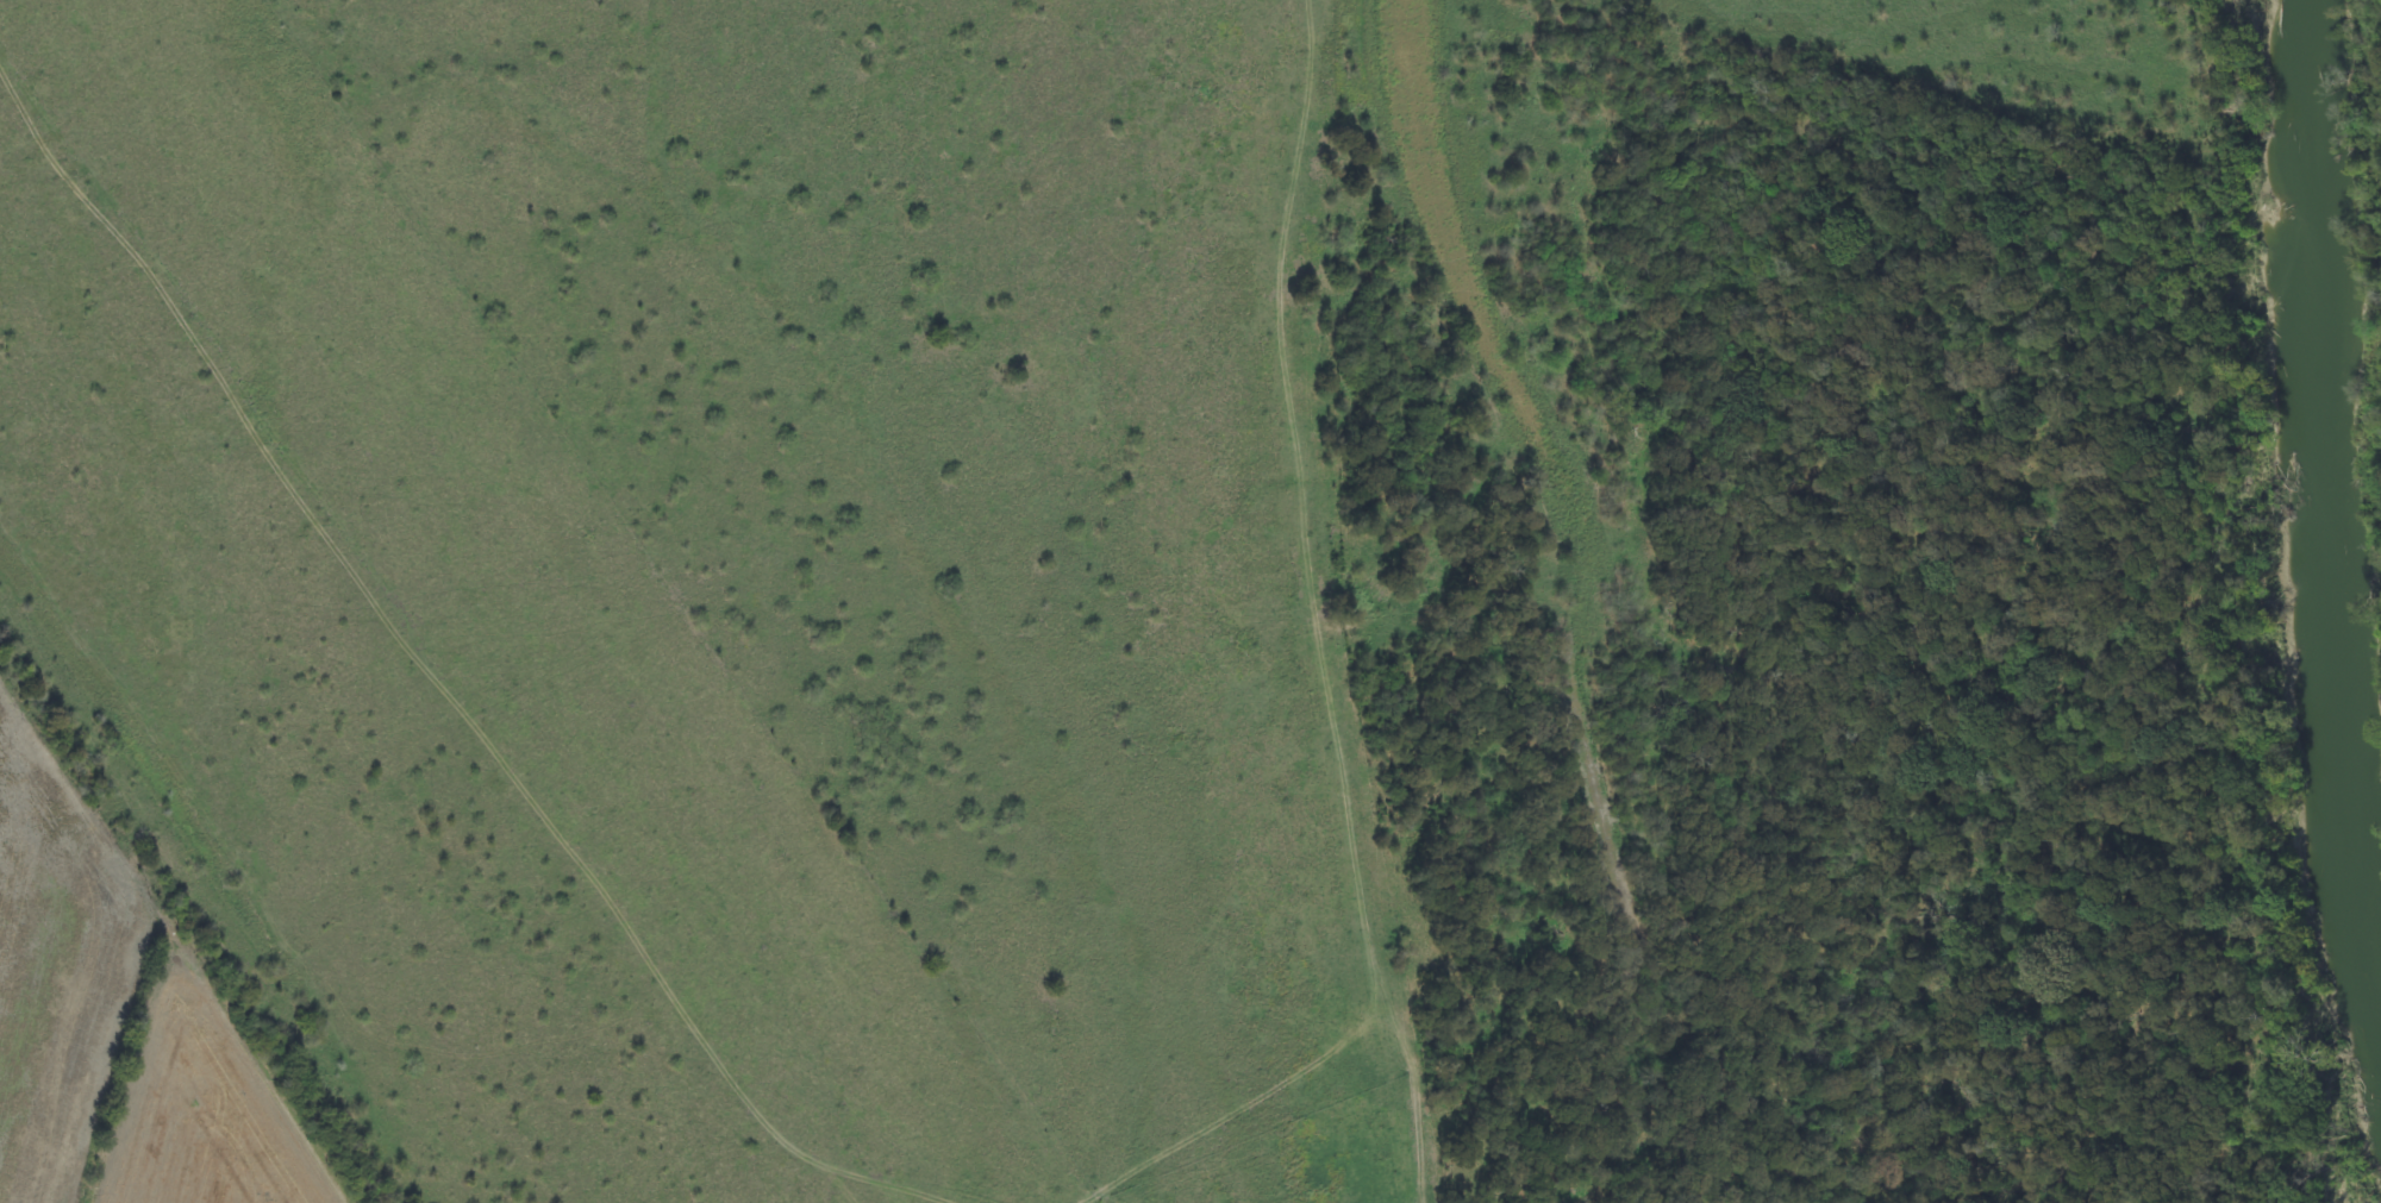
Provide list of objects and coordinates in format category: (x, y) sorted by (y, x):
river: (2336, 566)

